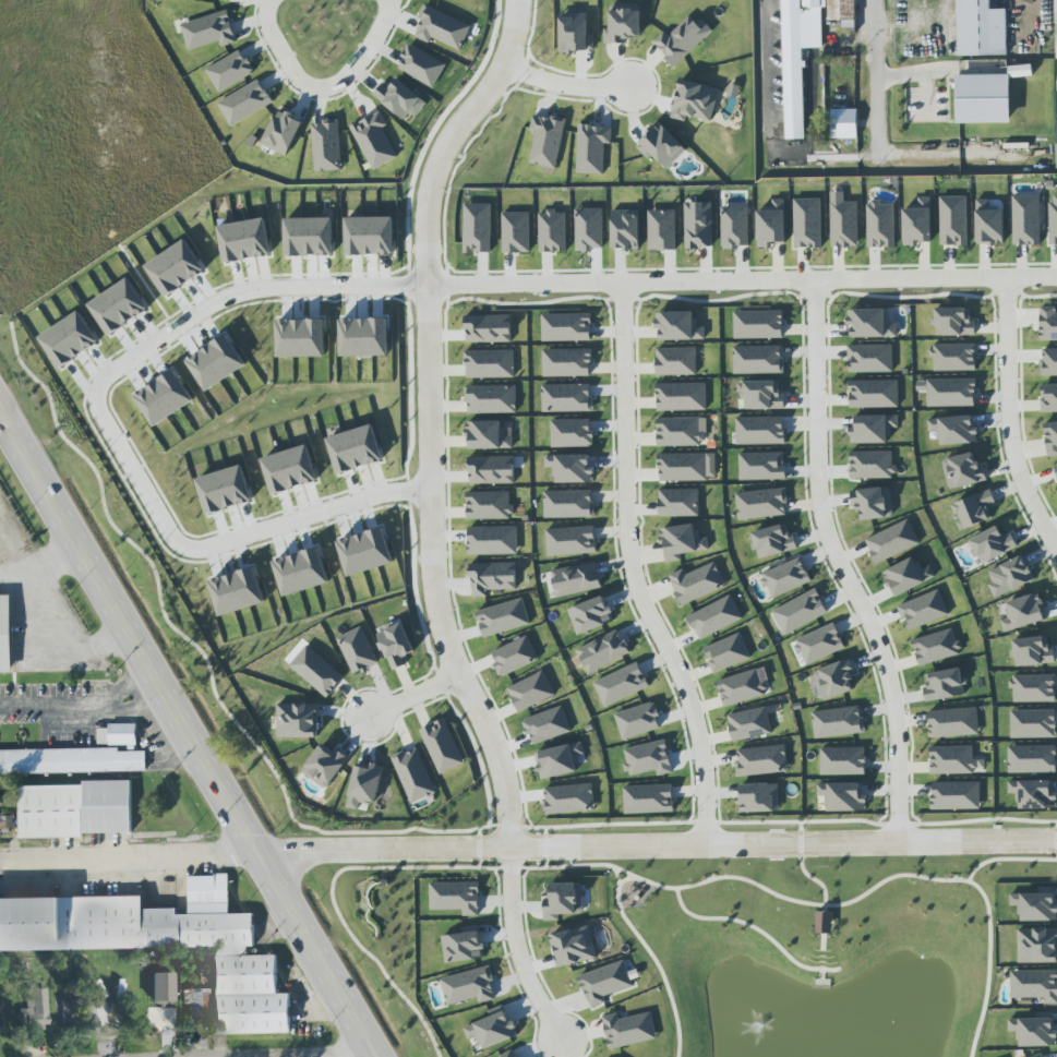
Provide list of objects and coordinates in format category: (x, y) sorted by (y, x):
building: (228, 0)
building: (810, 4)
building: (842, 10)
building: (1056, 20)
building: (623, 25)
building: (442, 27)
building: (980, 28)
building: (209, 31)
building: (576, 33)
building: (683, 39)
building: (422, 65)
building: (792, 70)
building: (1021, 70)
building: (230, 71)
road: (876, 77)
road: (767, 79)
road: (568, 88)
road: (321, 93)
building: (400, 98)
building: (980, 99)
building: (695, 100)
building: (245, 103)
building: (843, 123)
building: (284, 132)
building: (546, 140)
building: (374, 141)
building: (326, 145)
building: (661, 146)
building: (592, 148)
road: (878, 155)
building: (1056, 156)
building: (1053, 218)
building: (1026, 219)
building: (953, 220)
building: (807, 223)
building: (917, 223)
building: (844, 224)
building: (988, 224)
building: (698, 225)
building: (771, 225)
building: (880, 225)
building: (735, 226)
building: (478, 228)
building: (589, 229)
building: (625, 229)
building: (662, 230)
building: (552, 231)
building: (516, 232)
building: (370, 236)
building: (310, 237)
building: (245, 240)
helipad: (699, 248)
building: (176, 268)
road: (744, 281)
building: (119, 307)
building: (953, 322)
building: (870, 323)
building: (1048, 323)
building: (758, 324)
building: (678, 326)
building: (566, 327)
building: (489, 328)
building: (70, 339)
building: (954, 357)
building: (870, 358)
building: (758, 359)
building: (676, 361)
building: (567, 362)
building: (1048, 362)
building: (490, 363)
building: (951, 392)
building: (874, 394)
building: (760, 395)
building: (682, 396)
building: (164, 397)
building: (567, 397)
building: (491, 398)
building: (1048, 398)
road: (1008, 421)
road: (109, 425)
building: (873, 429)
building: (953, 429)
building: (760, 430)
building: (680, 432)
building: (572, 433)
building: (488, 435)
building: (1052, 437)
building: (356, 449)
building: (872, 465)
building: (762, 466)
building: (687, 467)
building: (570, 468)
building: (1056, 468)
building: (492, 470)
building: (962, 470)
building: (678, 502)
building: (873, 502)
building: (762, 503)
building: (568, 504)
building: (489, 505)
building: (974, 509)
road: (433, 521)
building: (492, 540)
building: (570, 541)
building: (773, 541)
building: (891, 541)
building: (681, 542)
building: (992, 544)
road: (15, 546)
road: (839, 566)
road: (43, 568)
road: (634, 572)
building: (906, 576)
building: (1009, 576)
building: (492, 577)
building: (785, 577)
building: (576, 579)
building: (696, 582)
building: (923, 610)
building: (800, 611)
building: (1023, 612)
building: (590, 615)
building: (714, 616)
building: (503, 617)
building: (5, 634)
building: (819, 642)
building: (396, 644)
building: (936, 647)
road: (47, 650)
building: (358, 650)
building: (603, 650)
building: (1032, 651)
building: (726, 652)
building: (514, 656)
building: (316, 671)
building: (834, 680)
building: (621, 684)
building: (945, 684)
building: (741, 687)
building: (1034, 687)
building: (531, 690)
road: (415, 698)
road: (84, 708)
building: (297, 720)
building: (638, 720)
building: (838, 721)
building: (953, 722)
building: (1033, 723)
building: (548, 724)
building: (749, 724)
road: (188, 733)
building: (122, 734)
road: (254, 744)
building: (442, 746)
building: (648, 758)
building: (952, 759)
building: (1032, 759)
building: (71, 760)
building: (558, 760)
building: (761, 760)
building: (843, 760)
building: (325, 765)
building: (415, 774)
building: (364, 785)
building: (1034, 793)
building: (956, 795)
building: (843, 796)
building: (759, 797)
building: (569, 798)
building: (649, 798)
building: (76, 809)
road: (479, 848)
road: (544, 848)
road: (656, 848)
road: (1056, 851)
road: (1007, 858)
road: (128, 860)
road: (810, 876)
road: (626, 878)
road: (641, 878)
building: (456, 897)
building: (563, 900)
building: (1035, 905)
building: (825, 922)
road: (757, 928)
building: (164, 945)
building: (1037, 945)
building: (574, 946)
building: (463, 947)
road: (652, 958)
building: (605, 983)
building: (1034, 985)
building: (469, 986)
building: (161, 987)
building: (199, 1002)
building: (35, 1008)
building: (72, 1012)
building: (0, 1013)
building: (94, 1013)
fountain: (760, 1023)
building: (493, 1030)
building: (628, 1030)
building: (1034, 1031)
building: (509, 1054)

